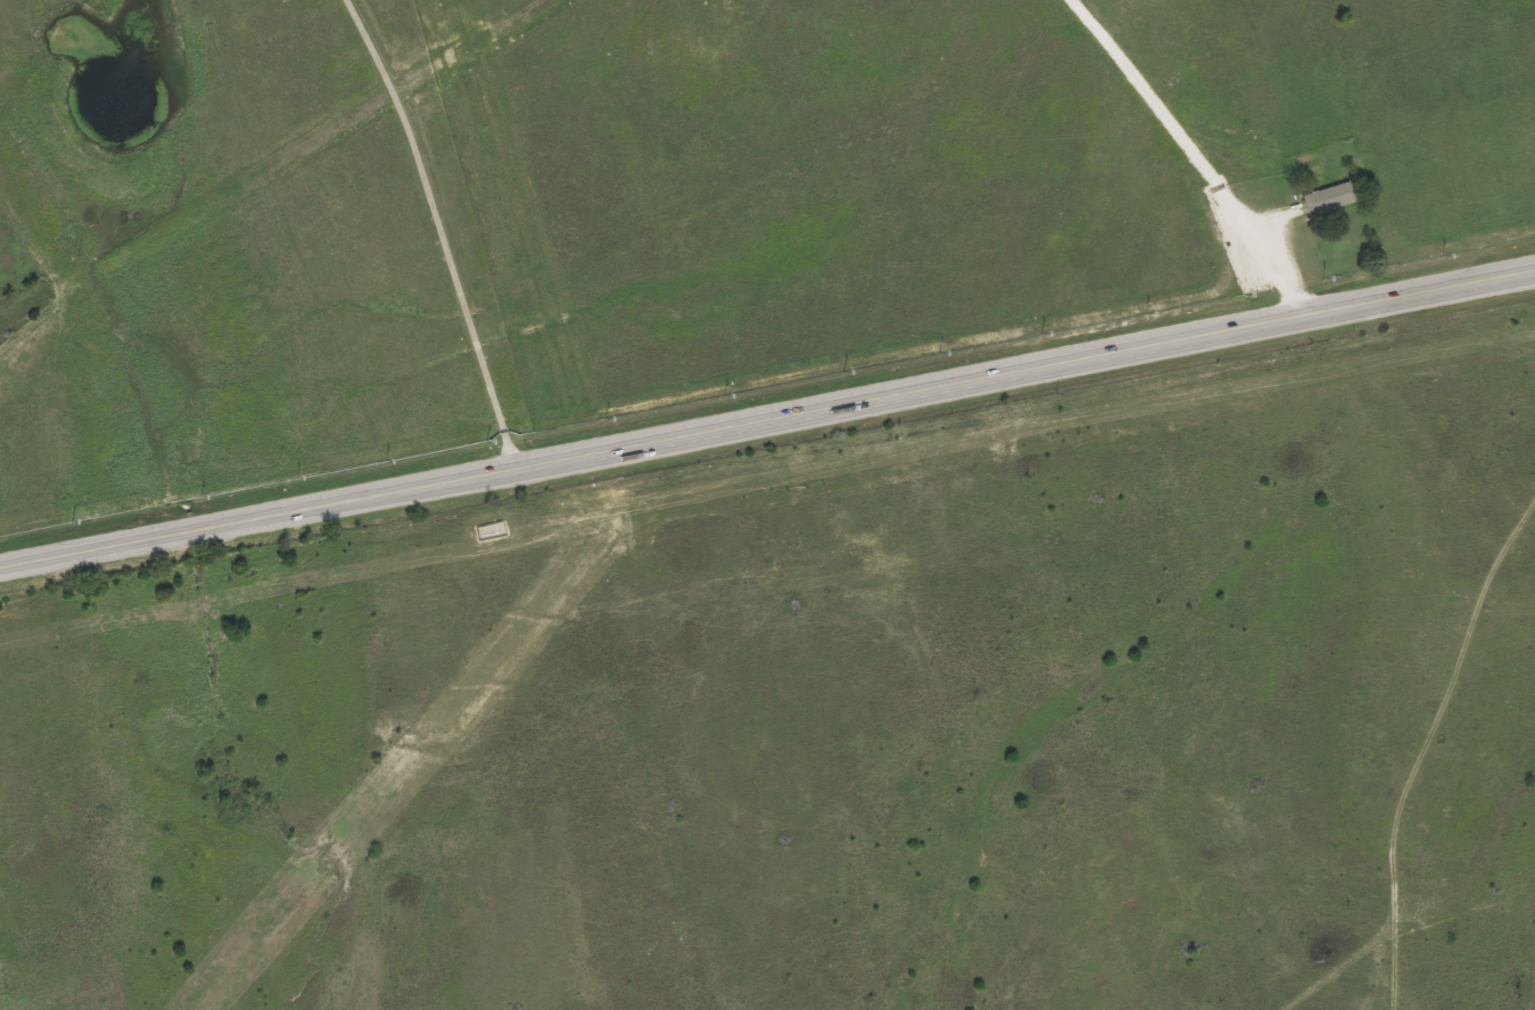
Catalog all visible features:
road: (1199, 157)
building: (1330, 198)
road: (436, 232)
road: (767, 424)
road: (1512, 531)
road: (1412, 782)

